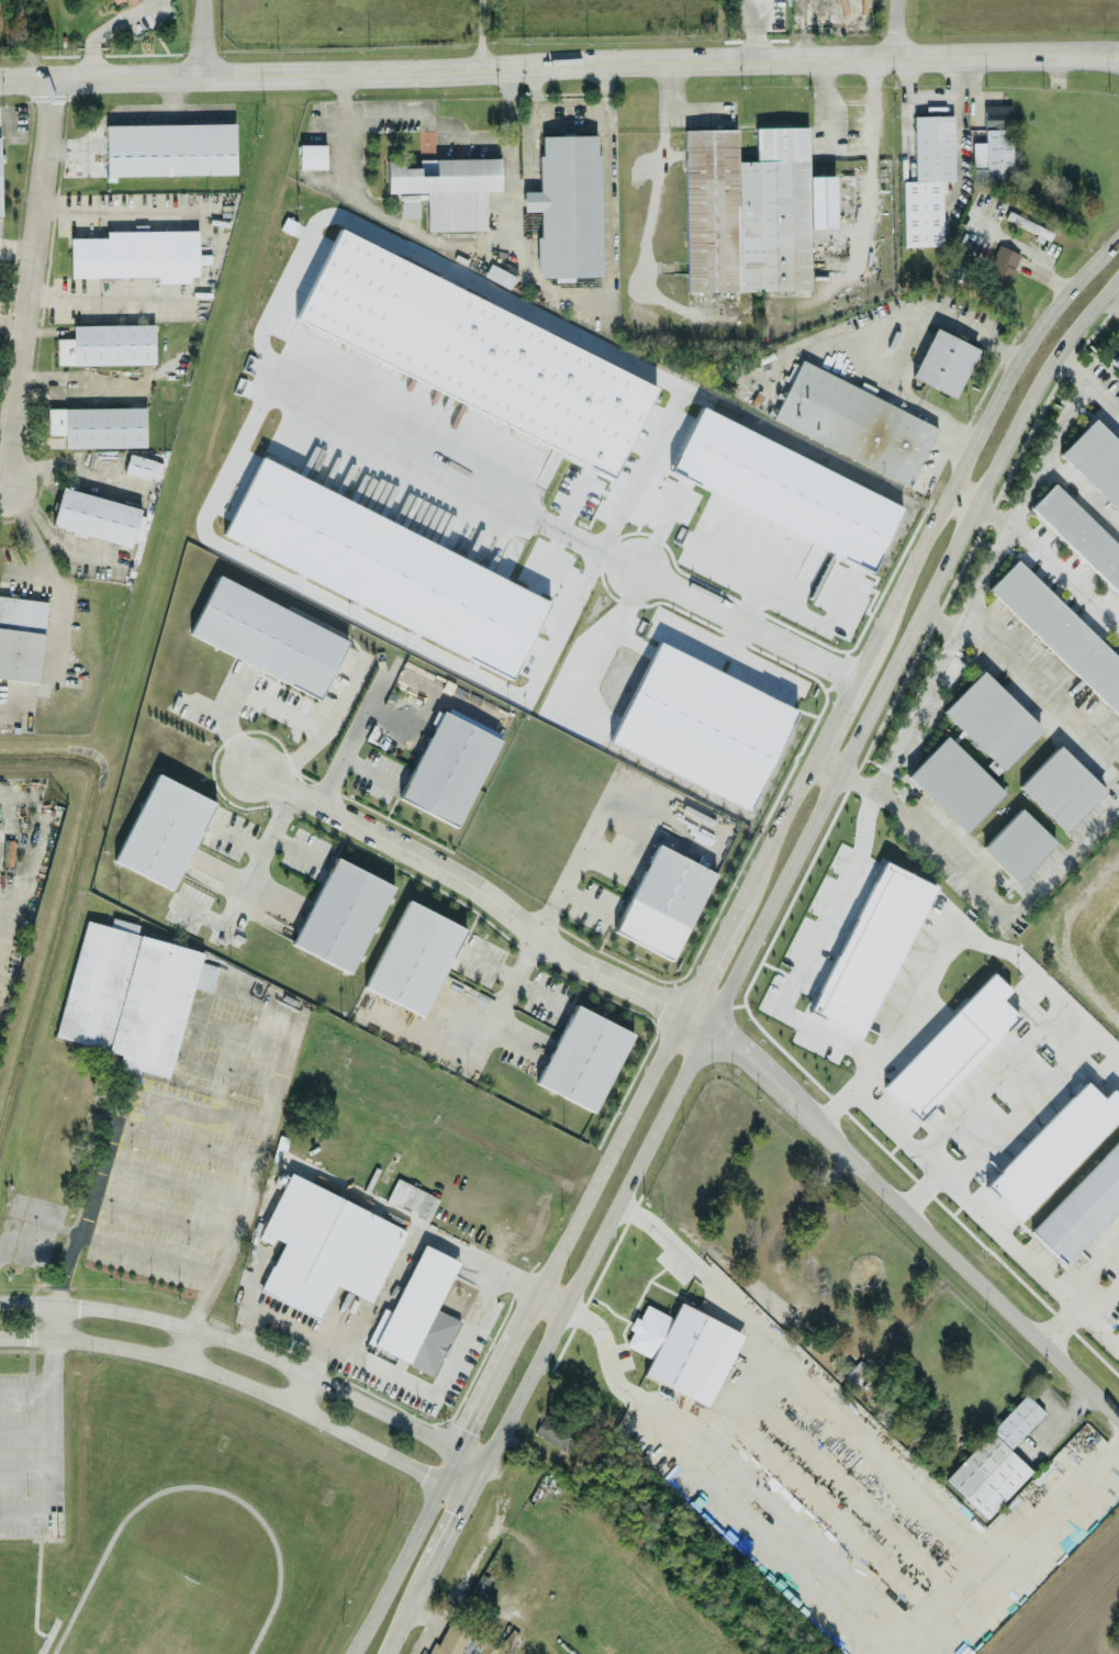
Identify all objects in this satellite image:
building: (114, 0)
building: (131, 1)
road: (896, 27)
road: (754, 29)
road: (105, 30)
road: (489, 34)
road: (201, 37)
road: (1111, 48)
road: (1111, 56)
road: (552, 67)
road: (607, 85)
road: (537, 87)
road: (174, 91)
road: (932, 97)
road: (670, 101)
road: (572, 104)
road: (958, 104)
road: (144, 105)
road: (200, 105)
road: (355, 125)
road: (510, 126)
road: (87, 139)
building: (993, 141)
road: (849, 146)
building: (170, 147)
road: (531, 147)
road: (869, 153)
building: (312, 155)
road: (962, 158)
building: (928, 179)
building: (446, 188)
building: (0, 191)
building: (568, 204)
road: (113, 208)
building: (751, 209)
road: (865, 221)
road: (16, 254)
building: (137, 254)
building: (1004, 264)
road: (29, 283)
road: (607, 287)
road: (104, 294)
road: (1111, 297)
road: (12, 320)
road: (875, 335)
building: (108, 344)
building: (475, 350)
building: (943, 360)
building: (1116, 361)
road: (1103, 391)
building: (855, 423)
building: (99, 425)
road: (1056, 433)
building: (1096, 458)
building: (138, 465)
road: (2, 489)
road: (1082, 490)
road: (23, 511)
building: (98, 515)
building: (1079, 533)
building: (385, 566)
road: (1065, 575)
road: (61, 596)
road: (702, 597)
road: (956, 623)
building: (1060, 629)
building: (268, 635)
building: (21, 636)
road: (1027, 668)
road: (271, 704)
road: (354, 734)
building: (997, 750)
road: (814, 753)
road: (367, 765)
building: (448, 767)
building: (1061, 785)
building: (165, 829)
building: (1018, 842)
road: (792, 862)
road: (585, 867)
road: (974, 879)
road: (483, 892)
building: (664, 897)
building: (343, 914)
building: (124, 924)
building: (872, 948)
building: (414, 955)
road: (525, 957)
road: (489, 964)
road: (795, 979)
road: (536, 991)
building: (128, 995)
road: (502, 1002)
road: (1077, 1018)
building: (952, 1044)
building: (584, 1055)
road: (750, 1057)
road: (913, 1147)
building: (1053, 1147)
road: (259, 1159)
road: (93, 1194)
building: (412, 1197)
building: (1082, 1206)
road: (409, 1222)
road: (1007, 1238)
building: (325, 1245)
road: (954, 1255)
road: (1095, 1262)
road: (1104, 1293)
building: (418, 1312)
building: (1117, 1312)
road: (1065, 1317)
road: (55, 1320)
road: (290, 1322)
road: (191, 1343)
road: (253, 1345)
building: (684, 1349)
road: (499, 1368)
road: (244, 1382)
road: (300, 1385)
road: (26, 1388)
road: (441, 1390)
road: (739, 1406)
building: (551, 1431)
road: (54, 1449)
building: (995, 1459)
road: (941, 1522)
road: (447, 1532)
road: (484, 1542)
road: (406, 1551)
road: (424, 1612)
road: (396, 1630)
road: (426, 1636)
building: (450, 1636)

